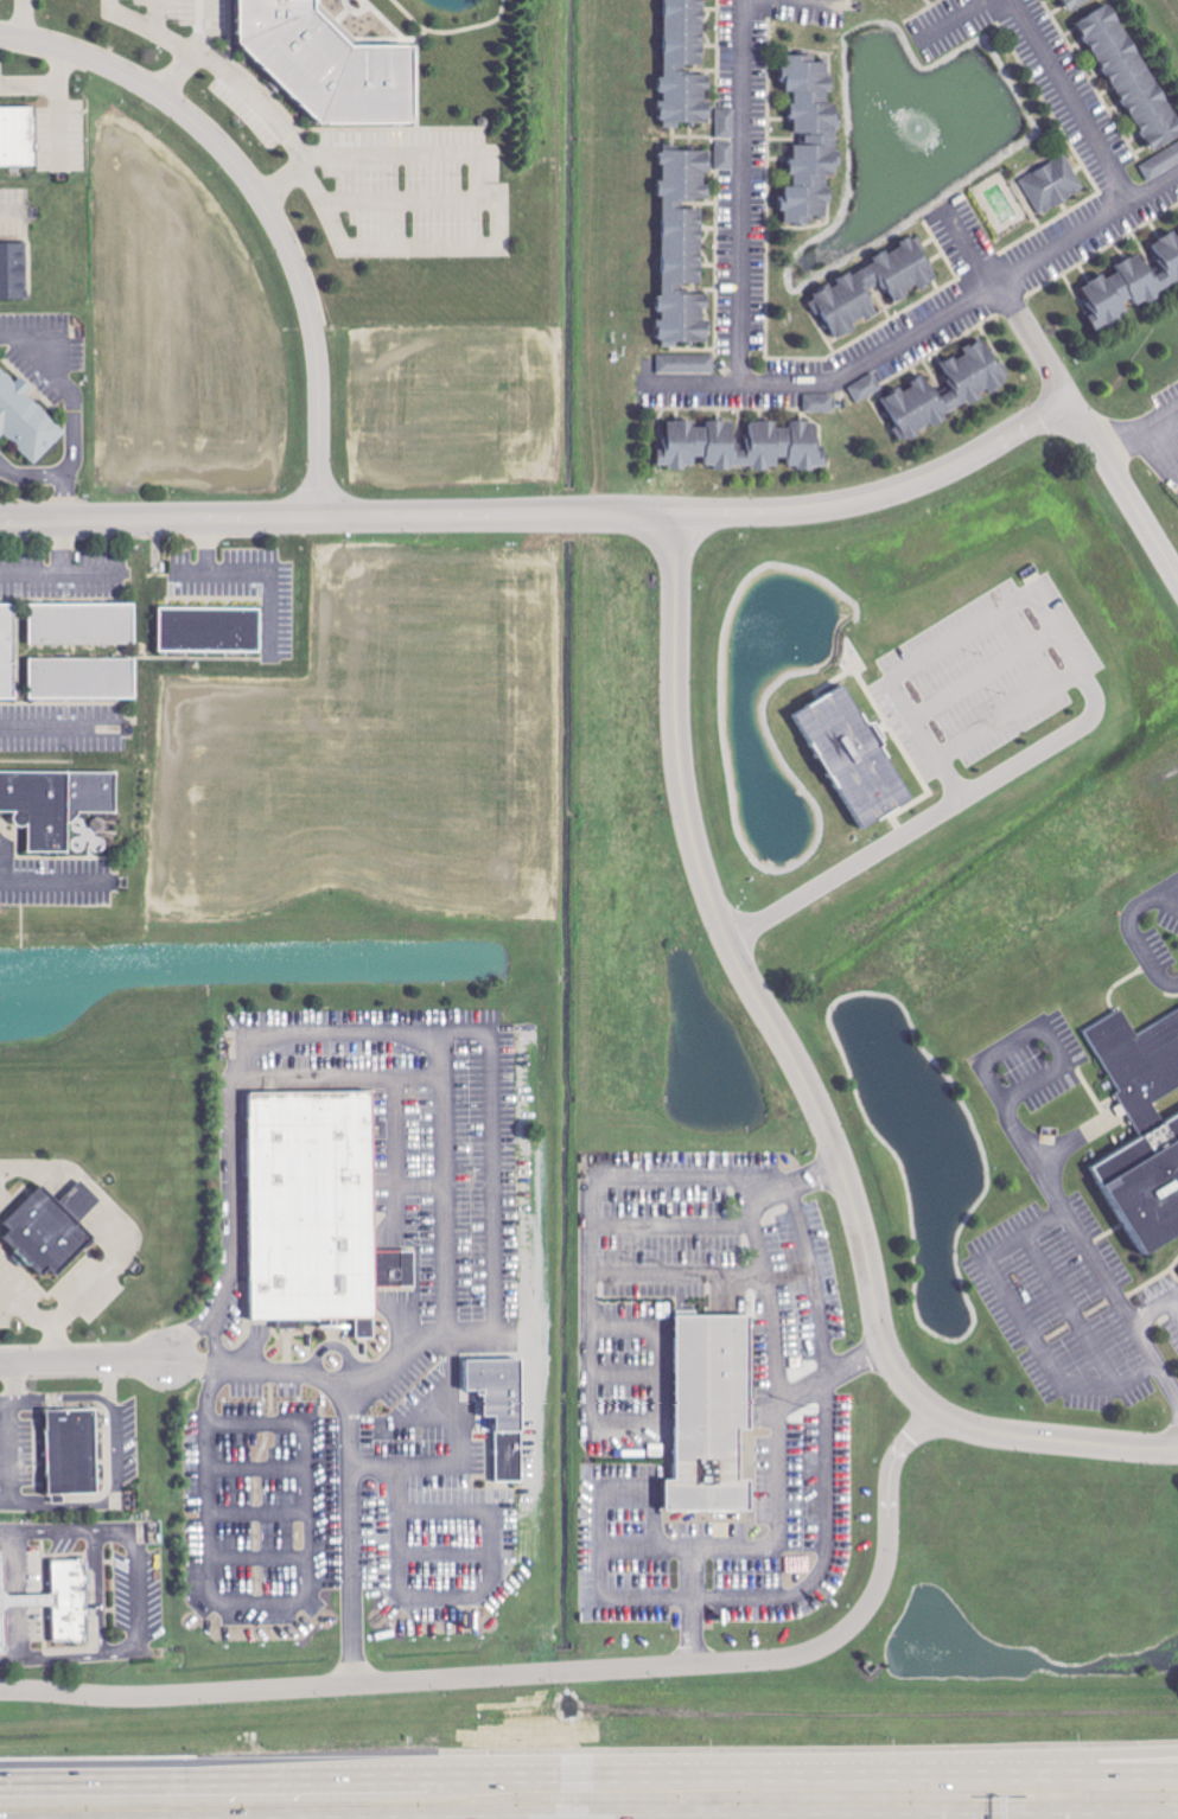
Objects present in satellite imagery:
building: (1075, 4)
road: (782, 14)
road: (978, 15)
road: (26, 19)
road: (160, 19)
road: (200, 26)
road: (146, 30)
building: (333, 64)
building: (687, 64)
road: (44, 81)
building: (1138, 84)
road: (1084, 95)
road: (255, 100)
building: (727, 123)
building: (19, 135)
building: (814, 139)
building: (726, 155)
building: (1055, 184)
road: (734, 187)
road: (402, 197)
road: (268, 199)
road: (12, 211)
road: (501, 229)
building: (686, 248)
building: (14, 272)
building: (1134, 285)
building: (853, 287)
road: (1010, 299)
road: (924, 318)
building: (687, 364)
building: (867, 388)
building: (917, 394)
road: (64, 400)
building: (821, 403)
building: (26, 419)
road: (1139, 430)
building: (785, 443)
road: (44, 483)
road: (1123, 490)
road: (702, 513)
road: (157, 518)
road: (61, 550)
road: (57, 581)
road: (316, 589)
building: (84, 624)
building: (212, 630)
building: (8, 651)
building: (84, 678)
road: (1095, 711)
road: (58, 739)
building: (859, 758)
building: (57, 803)
road: (746, 981)
road: (375, 1034)
road: (1008, 1110)
building: (320, 1211)
road: (106, 1234)
building: (53, 1236)
road: (675, 1282)
road: (1174, 1303)
road: (1027, 1326)
road: (43, 1327)
road: (1141, 1335)
road: (588, 1352)
road: (88, 1368)
road: (830, 1383)
road: (15, 1400)
road: (63, 1410)
building: (505, 1413)
road: (775, 1413)
building: (715, 1416)
road: (1053, 1438)
road: (352, 1451)
building: (74, 1457)
road: (17, 1461)
road: (117, 1496)
road: (597, 1519)
road: (824, 1520)
road: (97, 1602)
road: (23, 1606)
building: (50, 1607)
road: (140, 1607)
road: (549, 1673)
road: (1101, 1762)
road: (747, 1772)
road: (1101, 1772)
road: (235, 1775)
road: (949, 1818)
road: (975, 1818)

